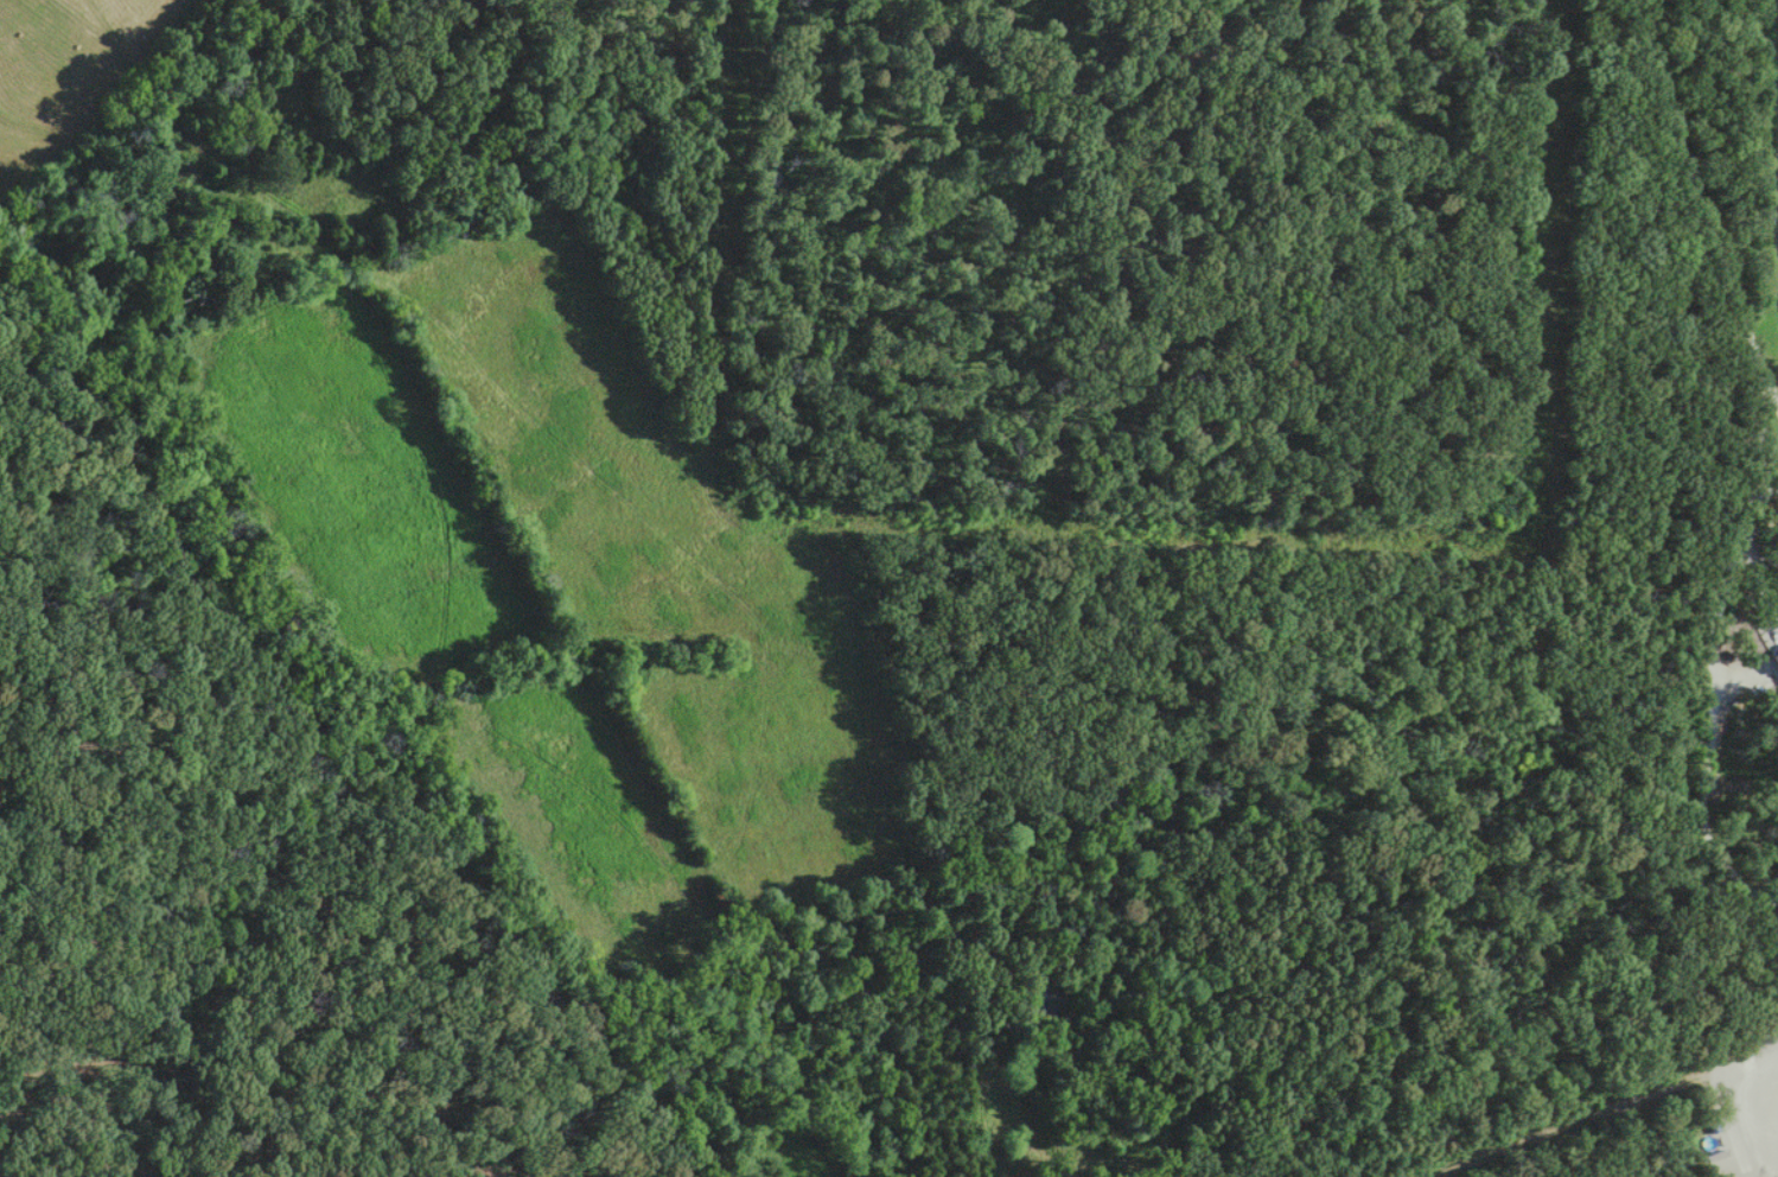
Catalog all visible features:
building: (1773, 663)

